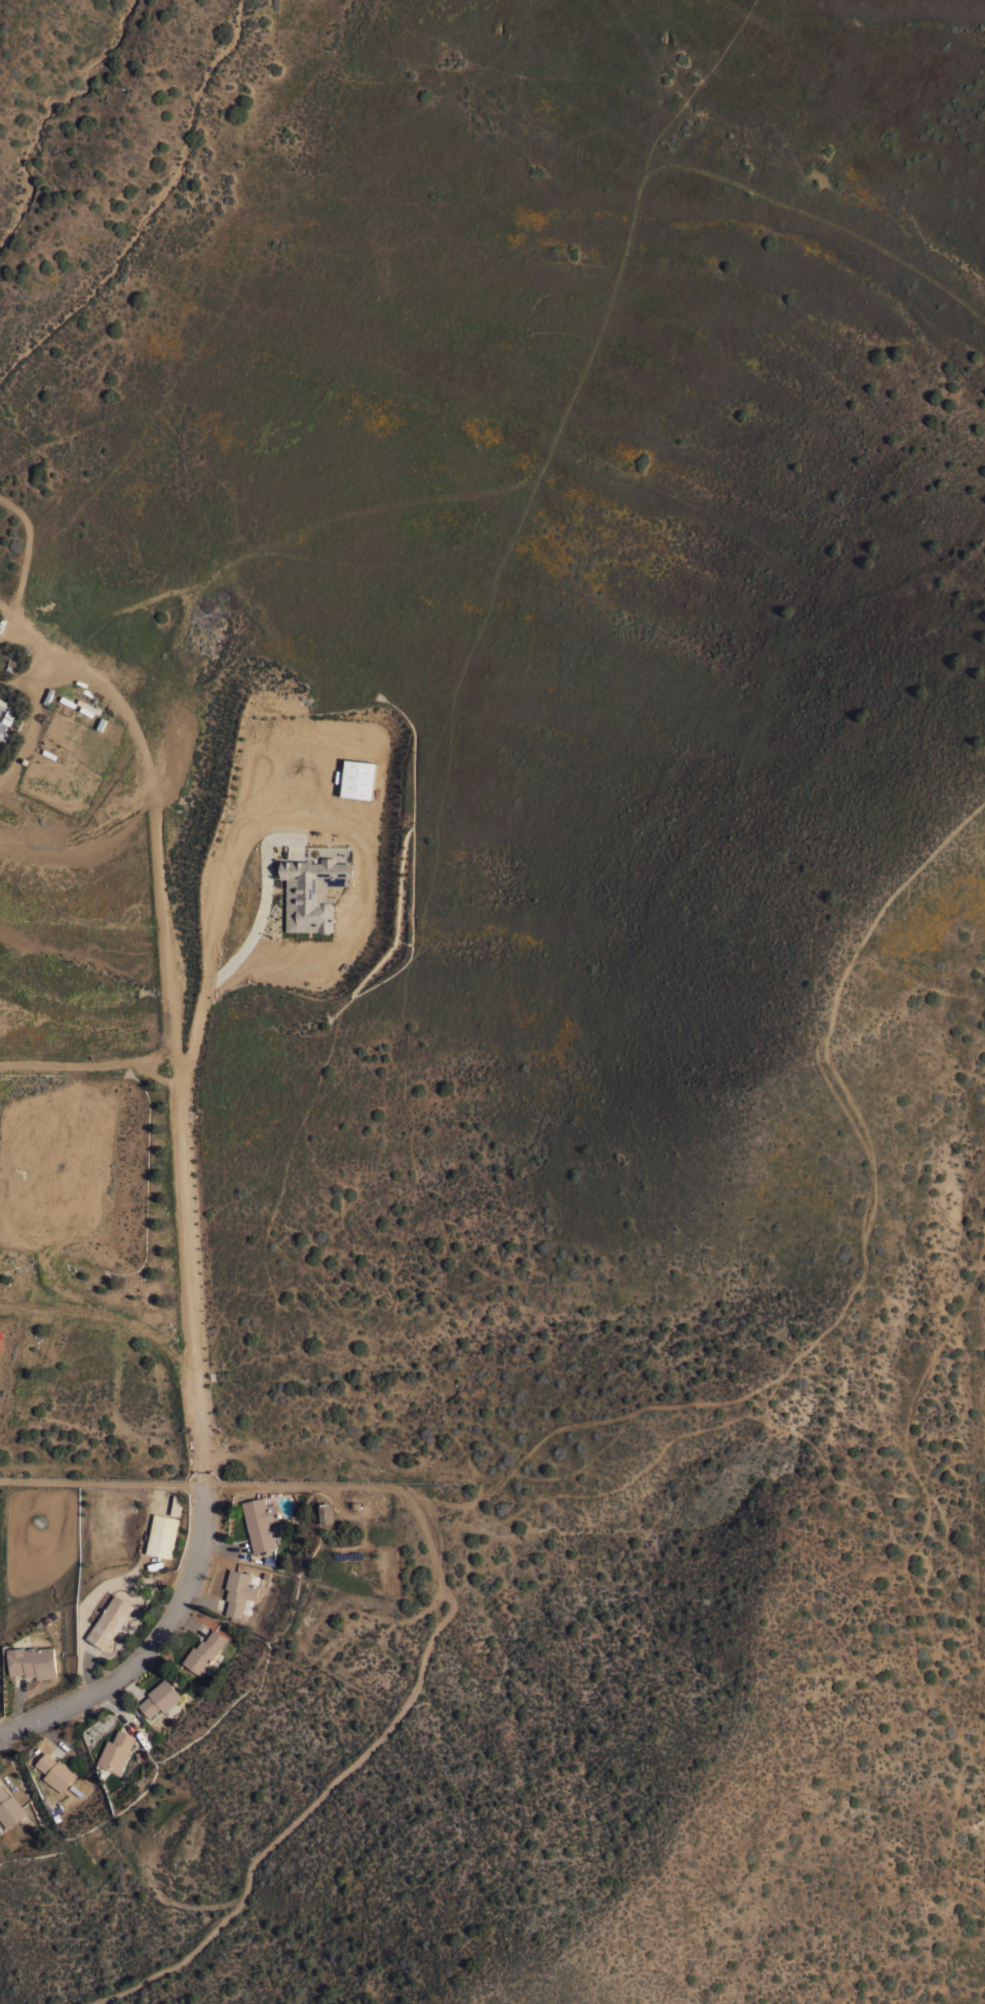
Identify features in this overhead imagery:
building: (87, 707)
building: (5, 716)
building: (359, 779)
road: (155, 820)
building: (312, 893)
road: (88, 1065)
road: (182, 1132)
building: (382, 1504)
building: (177, 1505)
building: (325, 1514)
building: (260, 1522)
building: (162, 1535)
road: (222, 1546)
building: (238, 1591)
road: (202, 1597)
road: (445, 1618)
building: (110, 1621)
building: (204, 1651)
road: (146, 1653)
building: (33, 1661)
road: (90, 1670)
road: (131, 1687)
building: (159, 1698)
road: (17, 1704)
road: (120, 1710)
road: (48, 1738)
building: (116, 1751)
building: (56, 1771)
building: (9, 1808)

